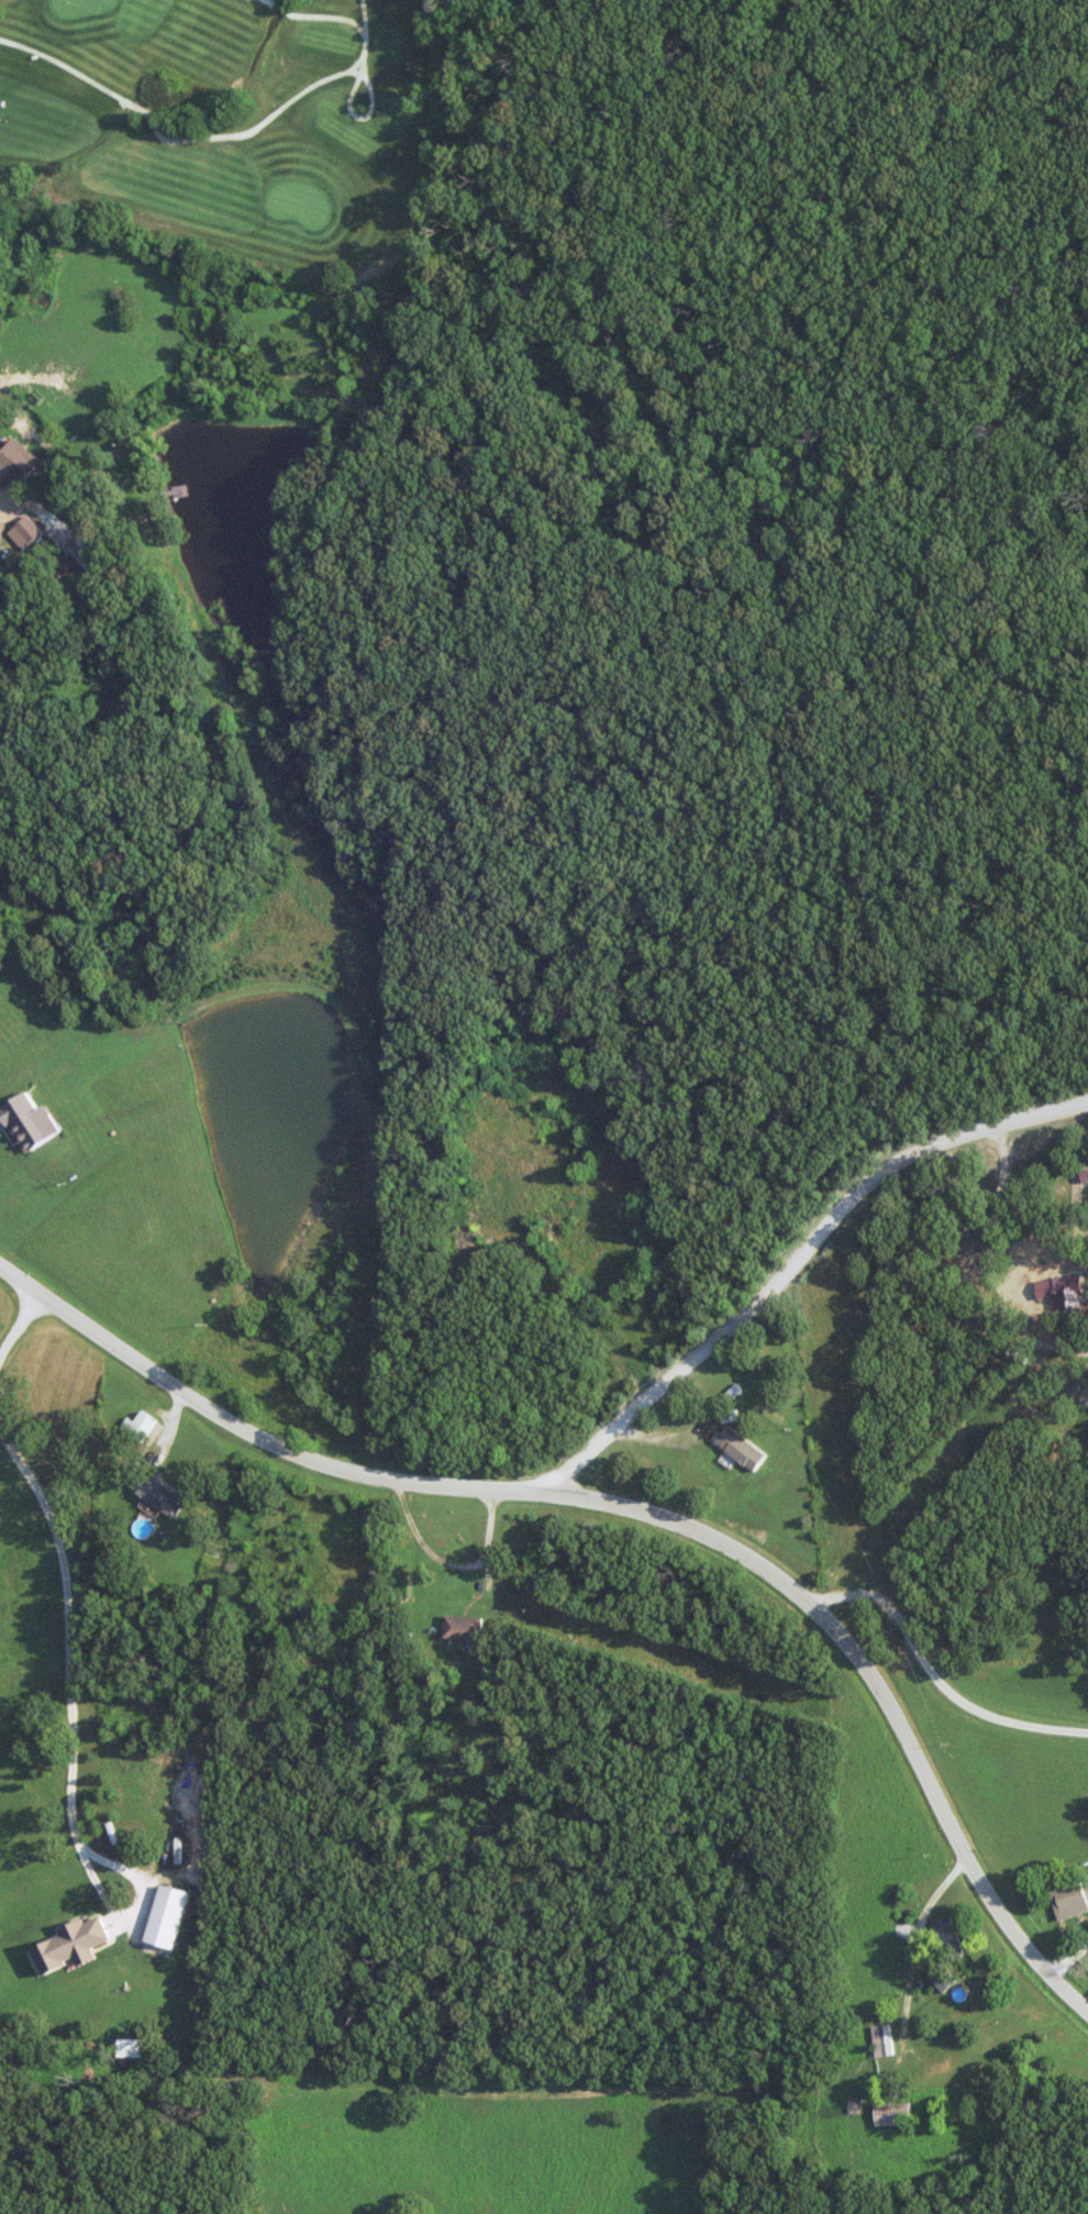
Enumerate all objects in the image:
park: (234, 129)
building: (14, 462)
road: (13, 510)
building: (23, 532)
road: (1056, 726)
building: (25, 1121)
road: (448, 1165)
road: (799, 1259)
building: (1058, 1294)
building: (137, 1426)
building: (740, 1448)
building: (158, 1497)
road: (640, 1514)
road: (457, 1565)
building: (460, 1626)
road: (934, 1680)
building: (1069, 1897)
building: (947, 1940)
road: (907, 1945)
building: (940, 1979)
building: (881, 2040)
building: (891, 2113)

